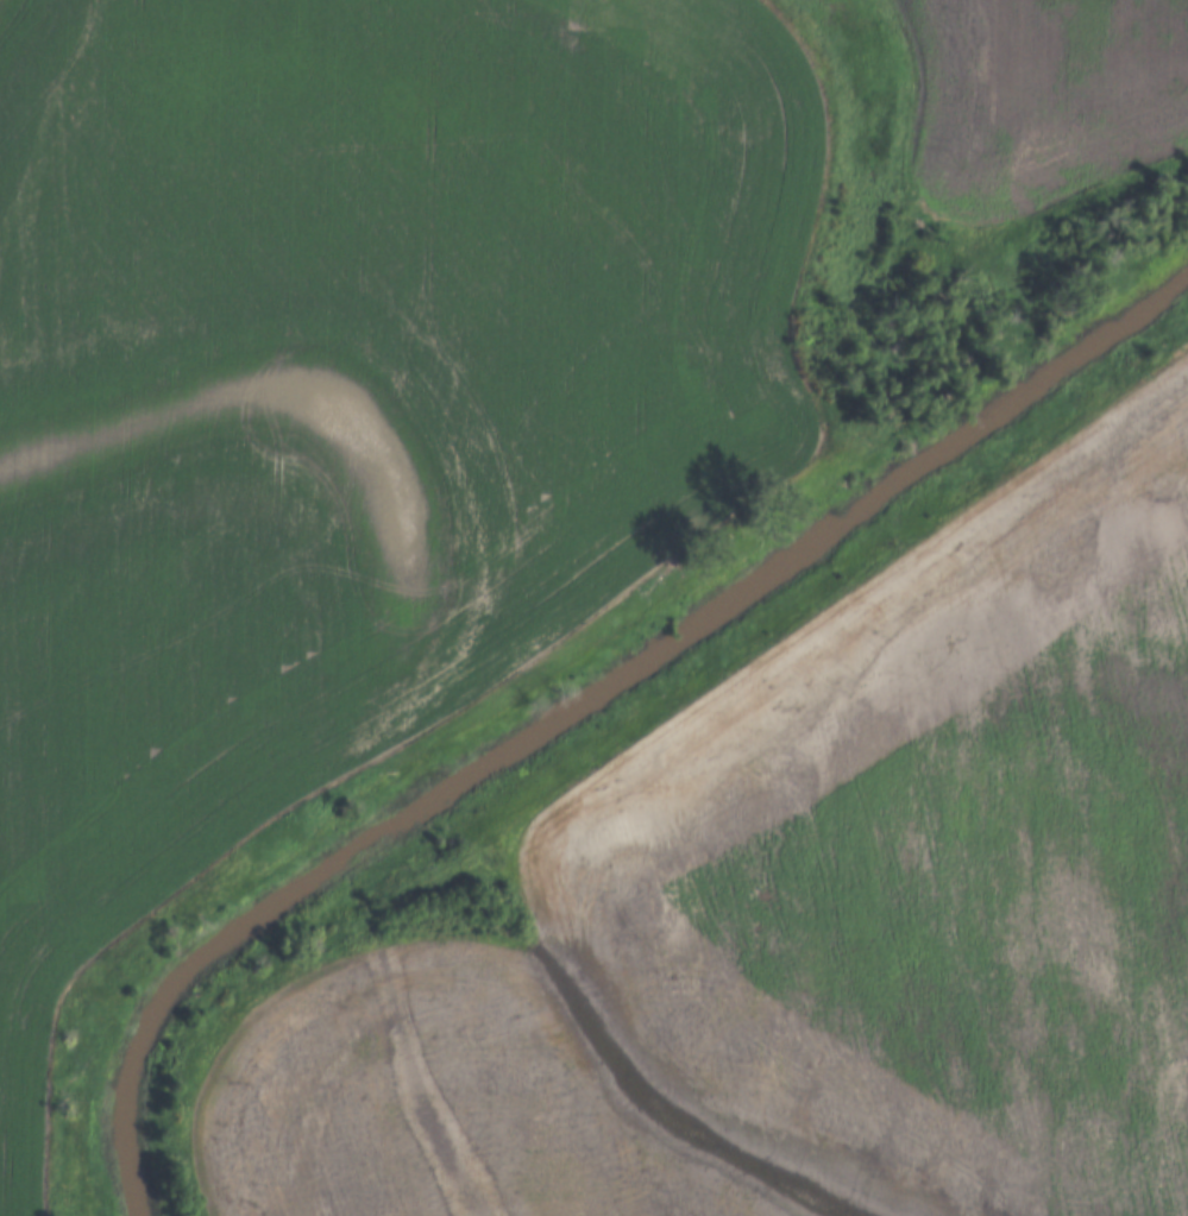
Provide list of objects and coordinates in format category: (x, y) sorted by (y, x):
crop: (1043, 99)
crop: (347, 395)
crop: (811, 918)

